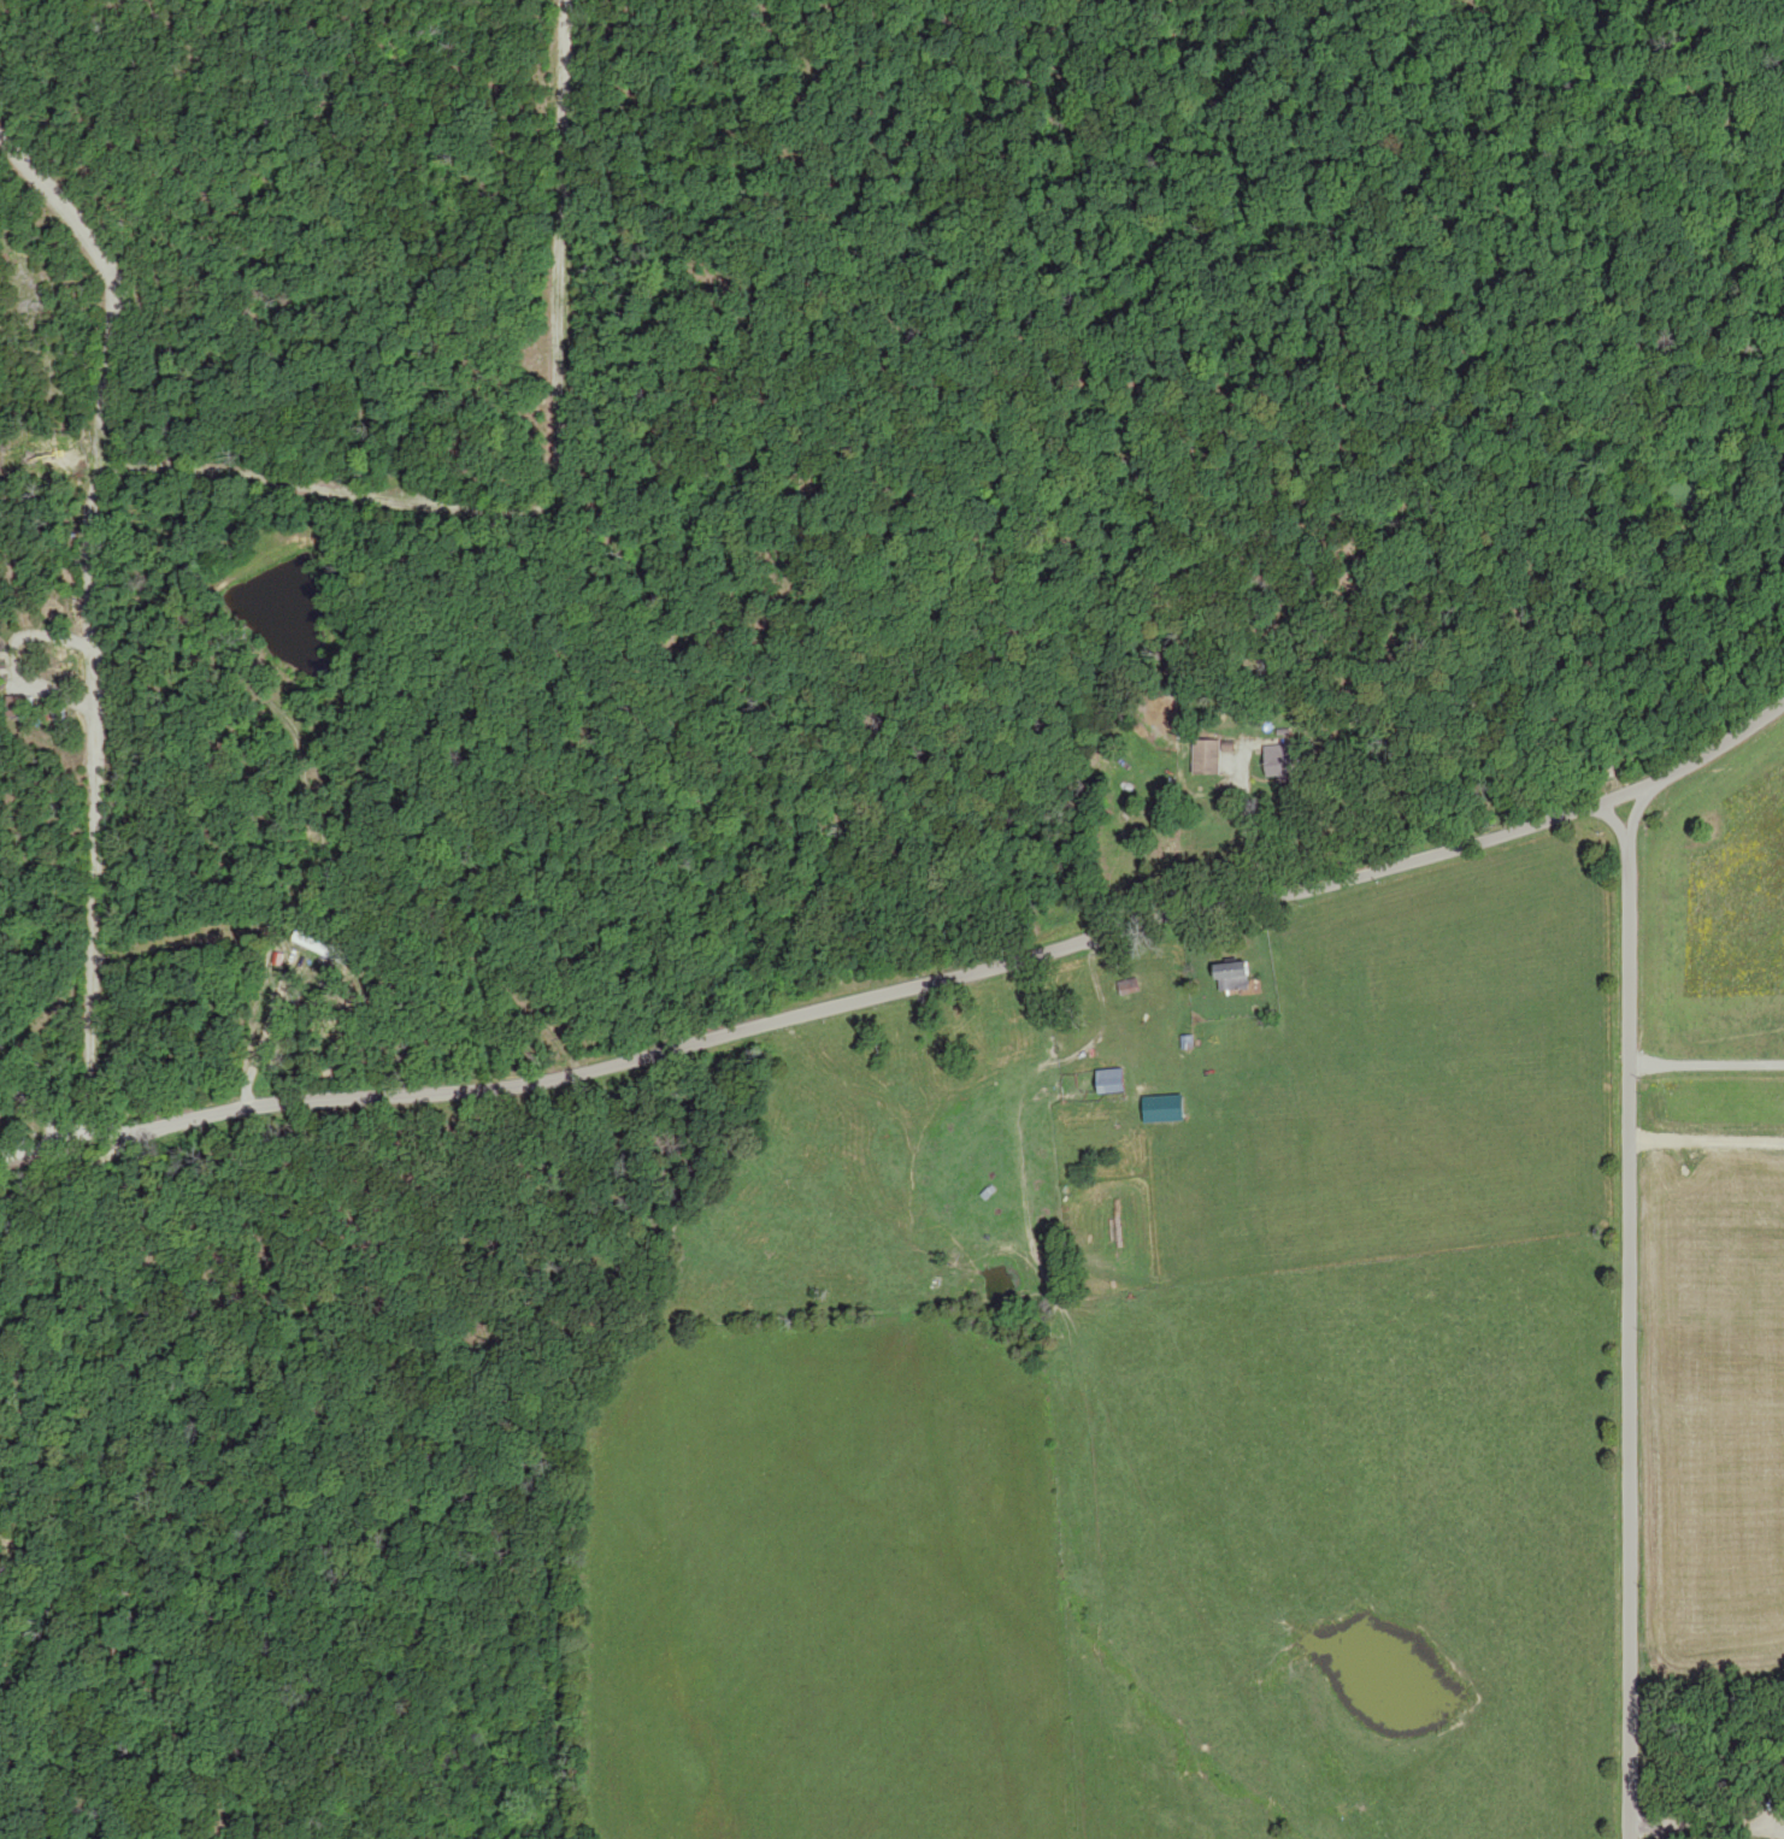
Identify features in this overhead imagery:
road: (96, 612)
building: (0, 671)
building: (22, 707)
building: (1209, 756)
building: (1282, 760)
building: (316, 942)
building: (1236, 977)
building: (1130, 988)
road: (970, 1003)
building: (1114, 1081)
road: (41, 1110)
road: (45, 1149)
road: (90, 1165)
road: (1617, 1332)

